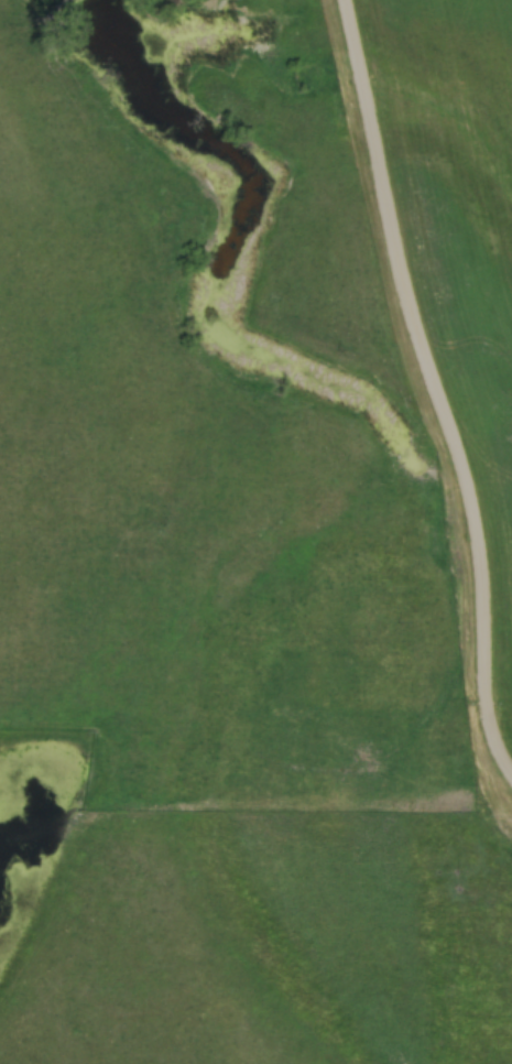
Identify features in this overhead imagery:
road: (442, 378)

